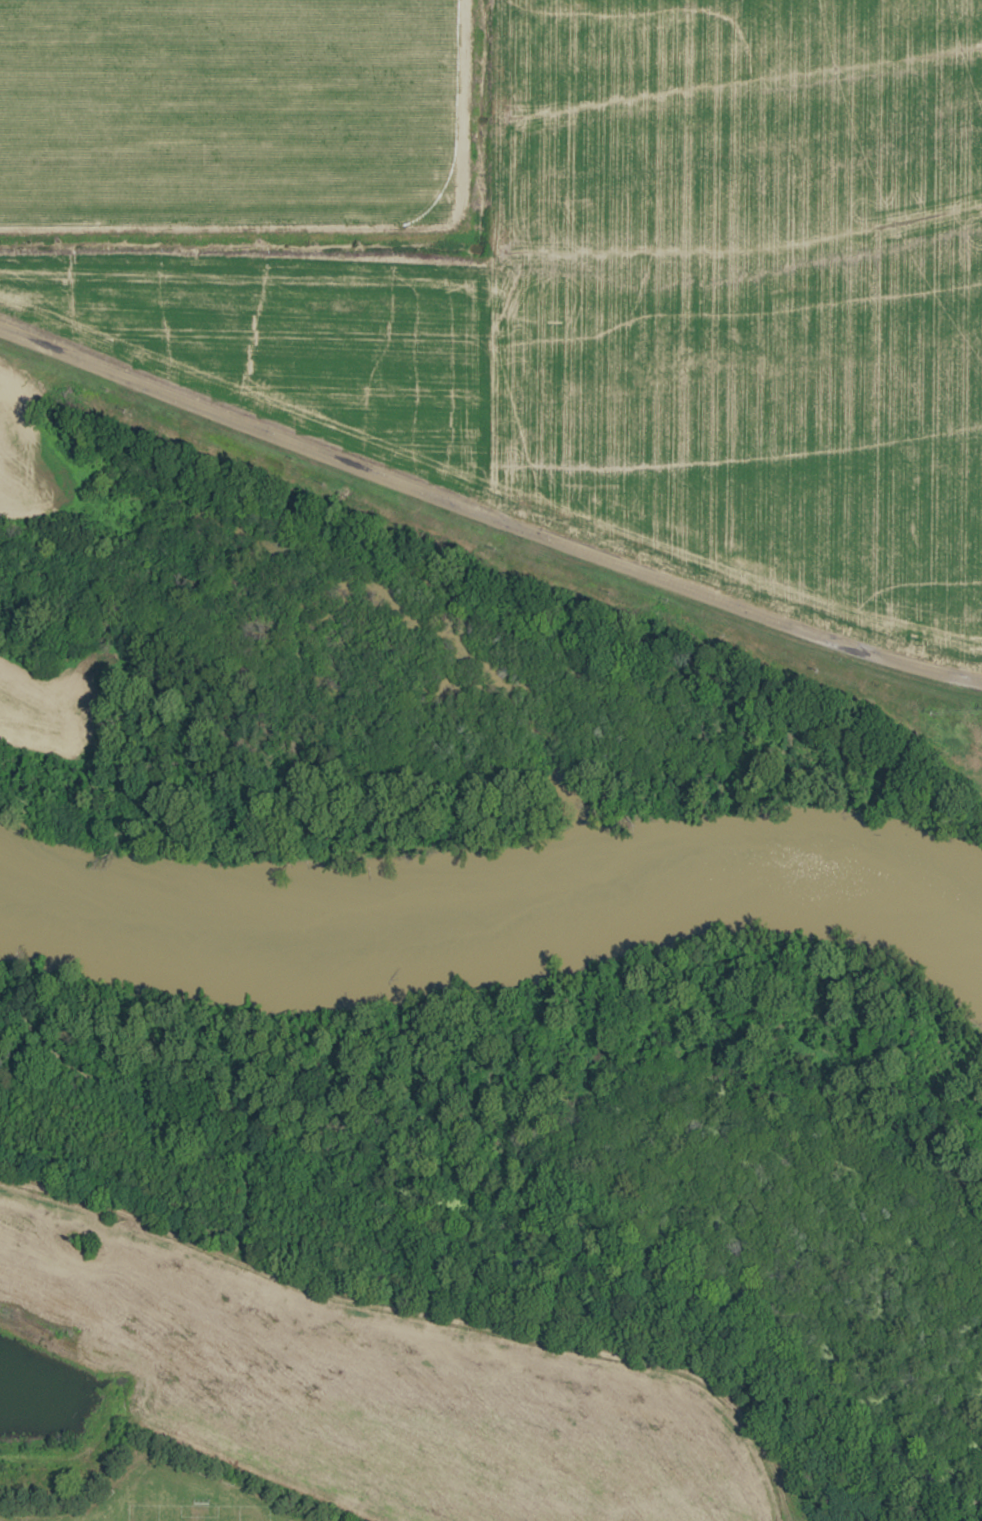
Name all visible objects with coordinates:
road: (504, 221)
road: (487, 517)
river: (501, 874)
road: (105, 1219)
road: (533, 1345)
road: (68, 1352)
crop: (371, 1393)
road: (137, 1396)
park: (167, 1499)
park: (190, 1514)

